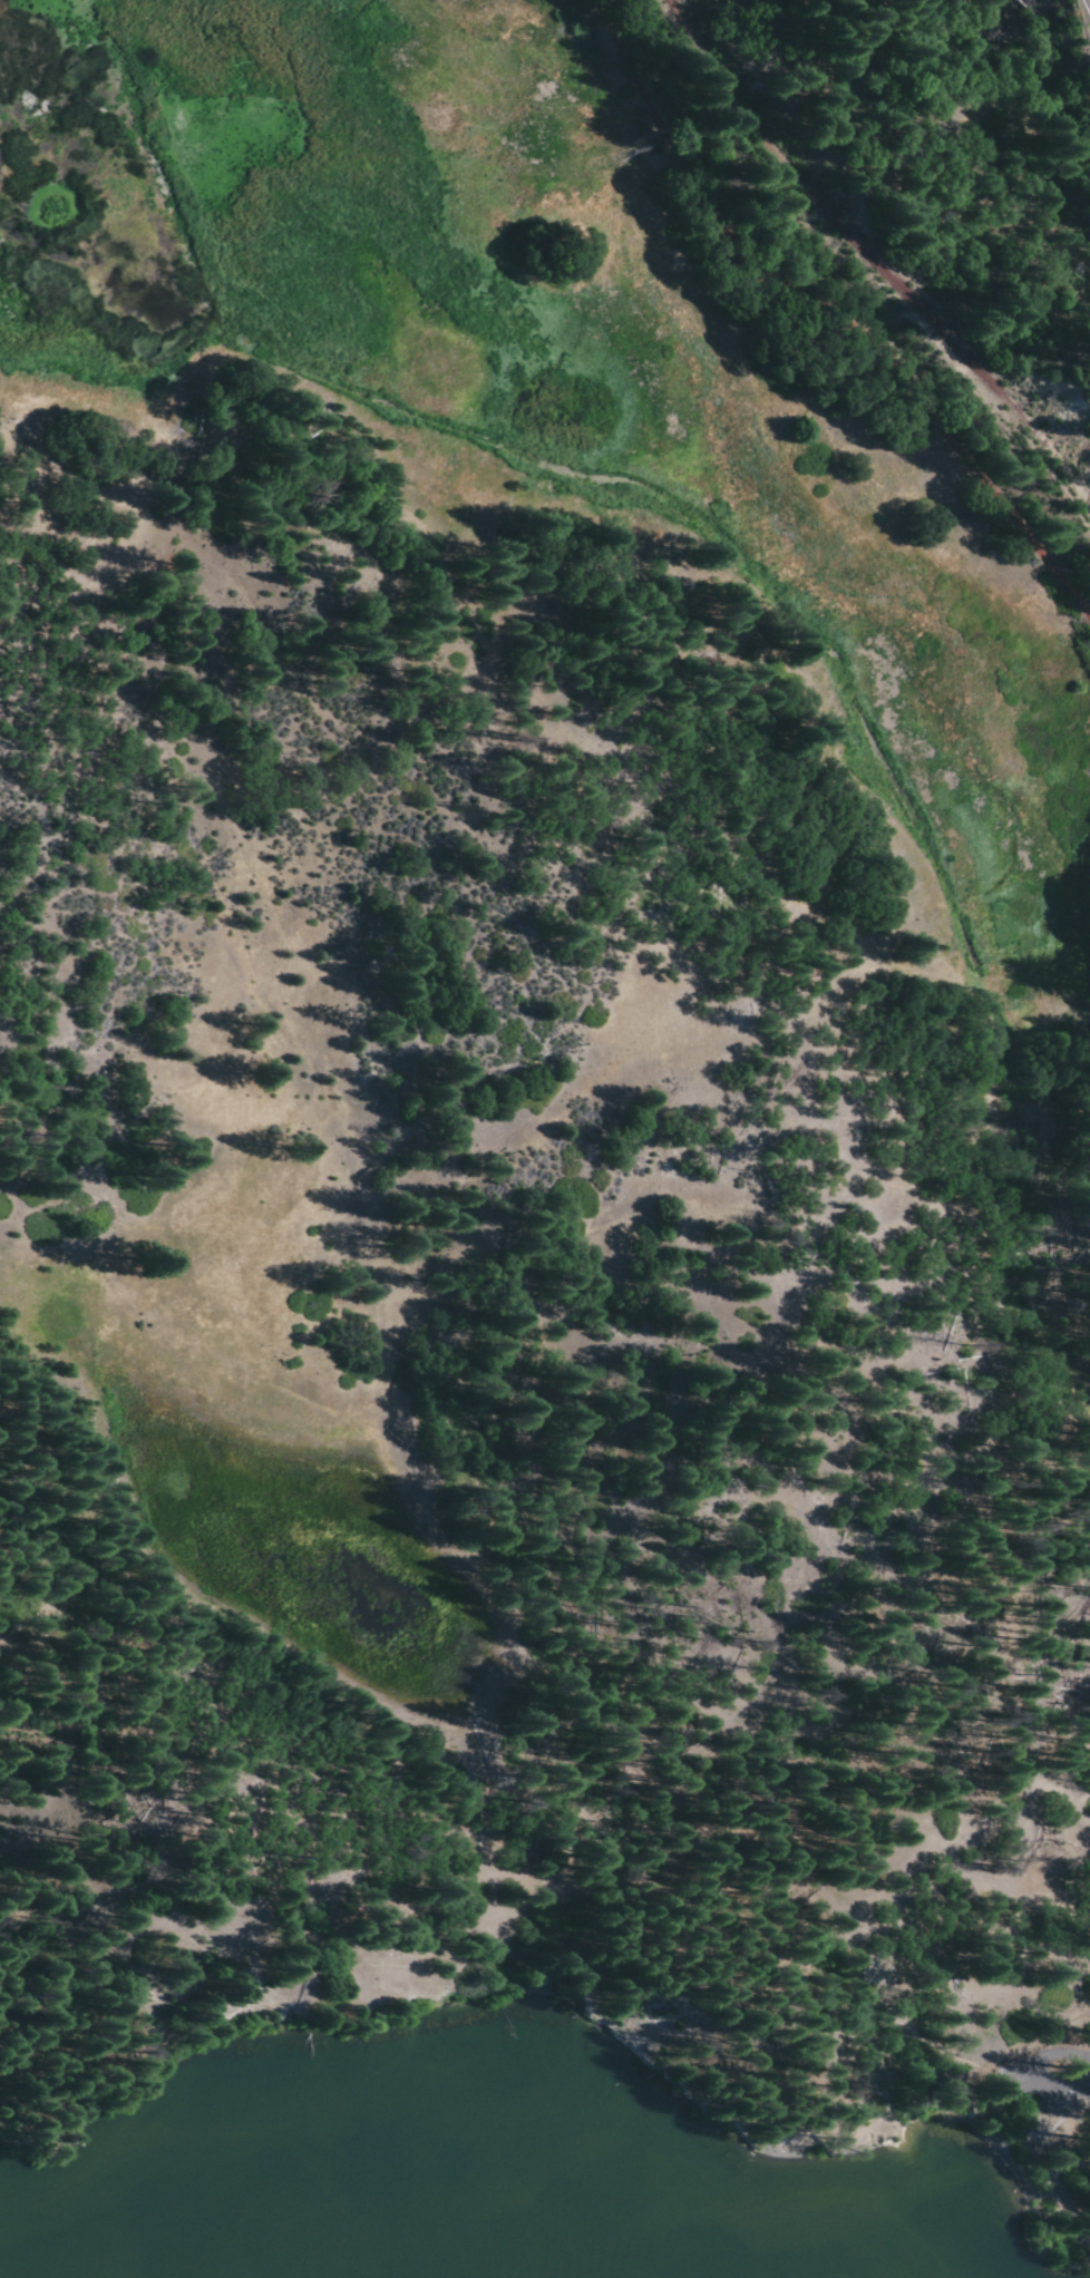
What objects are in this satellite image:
parking lot: (1053, 2087)

